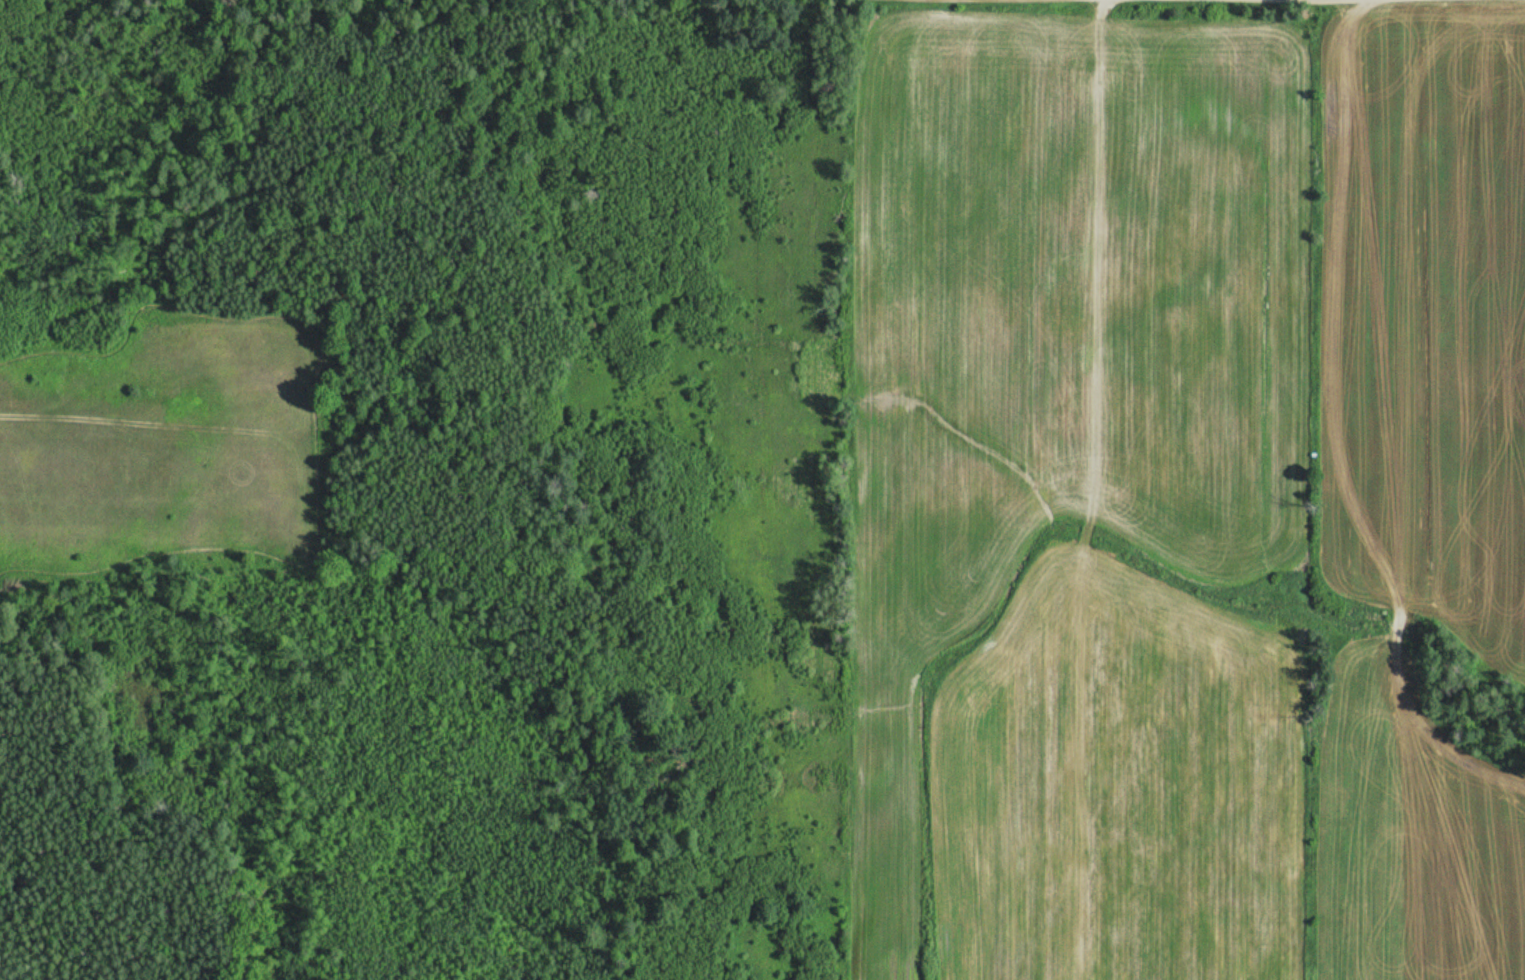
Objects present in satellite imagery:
road: (156, 422)

